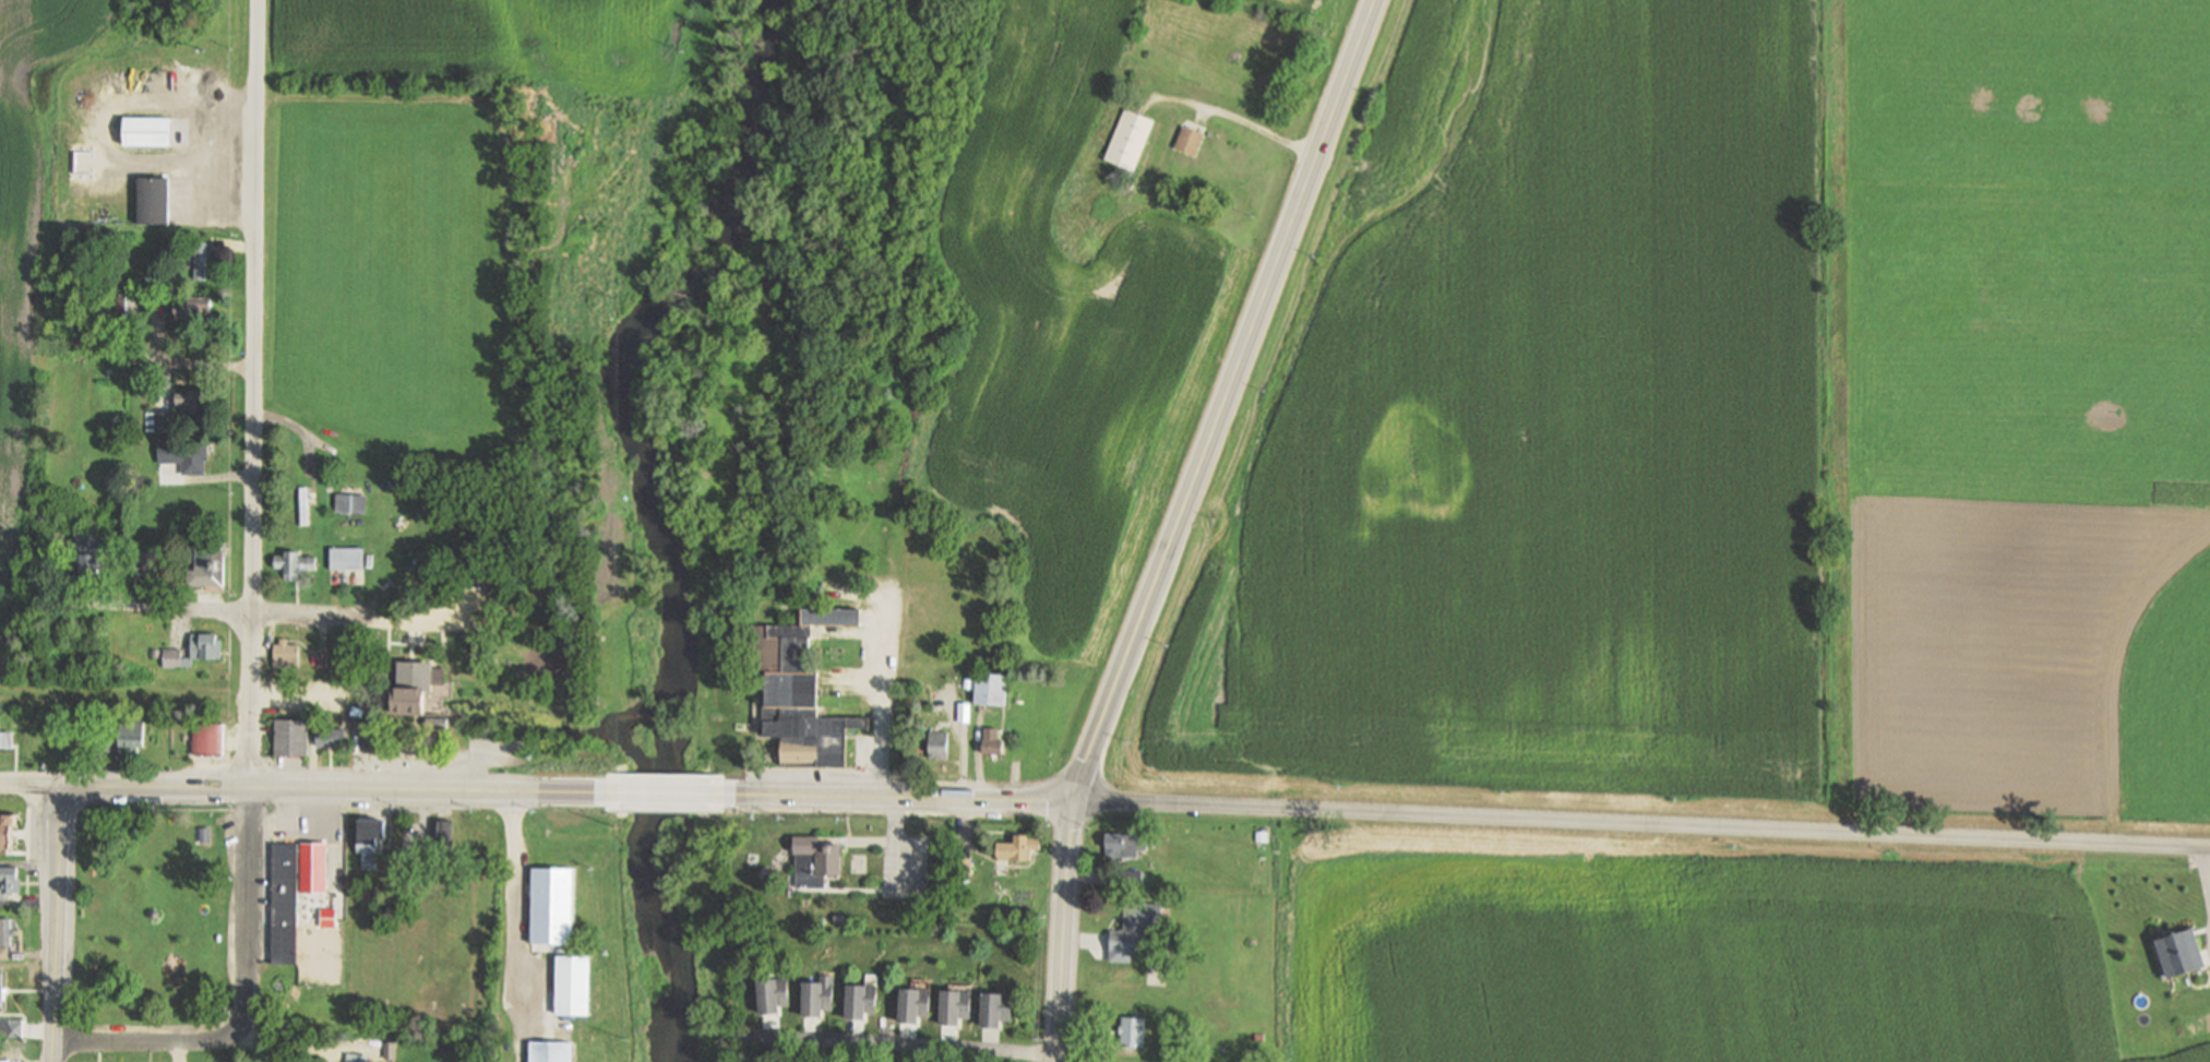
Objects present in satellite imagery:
crop: (1297, 5)
crop: (500, 40)
building: (200, 102)
building: (145, 132)
building: (1130, 139)
building: (1190, 140)
building: (153, 201)
crop: (23, 210)
road: (1295, 215)
building: (200, 261)
building: (128, 305)
building: (194, 311)
building: (79, 313)
crop: (1054, 320)
road: (208, 362)
road: (253, 394)
crop: (2031, 401)
building: (193, 402)
building: (165, 421)
crop: (1549, 428)
building: (186, 455)
building: (351, 502)
building: (304, 505)
river: (649, 509)
building: (44, 514)
building: (86, 558)
building: (345, 560)
building: (291, 565)
building: (142, 570)
building: (204, 571)
road: (857, 594)
road: (246, 609)
road: (1144, 614)
road: (458, 625)
building: (205, 645)
building: (286, 655)
building: (318, 658)
building: (172, 659)
road: (862, 679)
road: (482, 683)
building: (414, 685)
building: (798, 687)
road: (882, 688)
building: (991, 689)
building: (964, 712)
building: (363, 721)
building: (437, 727)
building: (131, 735)
building: (332, 736)
building: (290, 737)
building: (7, 739)
building: (207, 739)
building: (103, 741)
building: (405, 741)
building: (992, 742)
building: (939, 744)
road: (29, 785)
road: (439, 790)
road: (668, 792)
road: (891, 796)
road: (1641, 823)
road: (59, 828)
building: (5, 832)
building: (206, 834)
building: (443, 836)
building: (1261, 836)
building: (370, 840)
building: (1142, 843)
building: (1018, 847)
building: (1109, 855)
building: (815, 860)
building: (963, 864)
building: (859, 866)
building: (312, 867)
road: (2202, 873)
building: (1132, 876)
building: (9, 880)
building: (365, 880)
building: (961, 898)
building: (284, 903)
road: (518, 903)
building: (551, 905)
road: (248, 907)
building: (954, 911)
park: (154, 917)
building: (327, 918)
building: (5, 930)
road: (1063, 930)
building: (1134, 930)
building: (2171, 940)
crop: (1471, 950)
building: (3, 952)
park: (321, 957)
crop: (1884, 962)
building: (1156, 977)
building: (572, 987)
building: (2, 991)
building: (770, 995)
building: (817, 997)
building: (859, 1001)
building: (912, 1004)
building: (953, 1007)
building: (994, 1010)
building: (325, 1012)
building: (325, 1019)
building: (11, 1027)
building: (1132, 1030)
road: (886, 1034)
road: (515, 1036)
road: (150, 1040)
building: (742, 1042)
road: (906, 1046)
building: (549, 1052)
crop: (2198, 1057)
building: (358, 1058)

